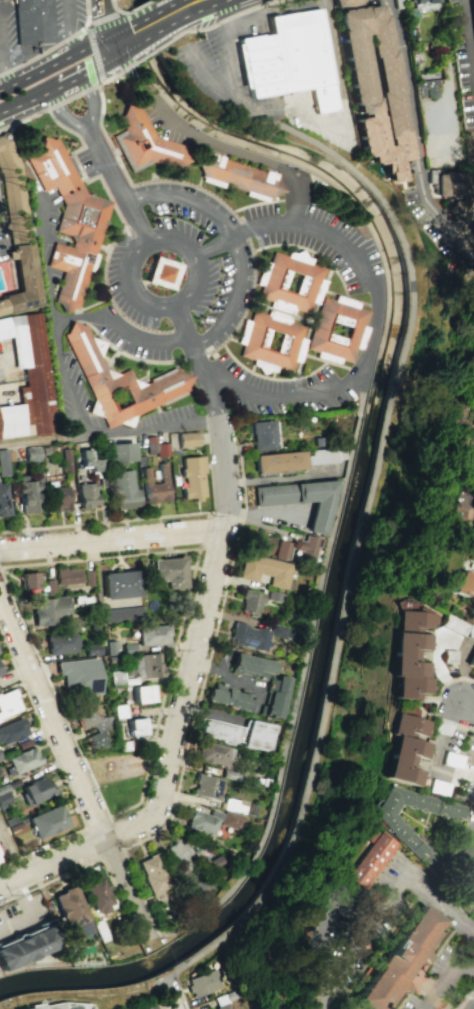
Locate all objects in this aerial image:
building: (4, 0)
road: (100, 0)
road: (102, 0)
road: (271, 2)
building: (341, 2)
road: (114, 5)
road: (193, 5)
building: (423, 6)
road: (133, 8)
road: (216, 10)
building: (472, 10)
road: (241, 13)
parking lot: (67, 17)
building: (33, 22)
road: (104, 23)
road: (70, 25)
road: (150, 26)
road: (203, 29)
road: (469, 33)
parking lot: (7, 37)
road: (88, 37)
road: (116, 43)
road: (54, 44)
traffic signals: (113, 45)
road: (154, 49)
parking lot: (463, 55)
building: (301, 58)
road: (2, 59)
road: (54, 59)
road: (330, 63)
building: (256, 66)
building: (354, 68)
road: (206, 70)
road: (113, 75)
road: (224, 78)
road: (448, 82)
parking lot: (213, 84)
road: (61, 85)
building: (426, 88)
road: (90, 102)
road: (52, 107)
road: (304, 116)
road: (64, 117)
parking lot: (171, 125)
road: (412, 127)
parking lot: (442, 132)
building: (143, 142)
road: (372, 150)
road: (243, 154)
building: (54, 168)
building: (237, 176)
road: (117, 185)
building: (448, 189)
building: (82, 220)
parking lot: (44, 224)
building: (15, 230)
road: (235, 236)
parking lot: (2, 246)
road: (42, 260)
building: (160, 272)
building: (68, 273)
building: (311, 282)
parking lot: (210, 285)
road: (153, 305)
road: (376, 308)
building: (356, 329)
road: (143, 340)
building: (292, 343)
building: (85, 353)
road: (60, 356)
road: (201, 364)
building: (35, 373)
building: (162, 388)
parking lot: (72, 396)
building: (100, 400)
building: (11, 421)
building: (473, 426)
road: (110, 434)
building: (262, 435)
building: (187, 438)
building: (316, 441)
building: (150, 444)
building: (161, 449)
building: (120, 452)
building: (32, 453)
building: (324, 455)
building: (66, 461)
building: (91, 461)
building: (3, 462)
building: (277, 462)
building: (191, 477)
building: (154, 485)
building: (124, 489)
building: (27, 493)
building: (87, 495)
building: (56, 497)
building: (300, 499)
building: (3, 500)
building: (473, 506)
road: (208, 513)
road: (104, 520)
building: (473, 522)
building: (473, 532)
road: (112, 539)
building: (262, 543)
building: (308, 547)
road: (368, 548)
building: (283, 549)
building: (265, 569)
building: (168, 571)
building: (67, 577)
building: (87, 577)
road: (97, 579)
building: (28, 580)
building: (465, 586)
building: (122, 595)
building: (275, 596)
building: (251, 601)
building: (50, 610)
building: (413, 620)
building: (454, 625)
building: (281, 631)
building: (470, 633)
building: (152, 634)
building: (249, 636)
building: (60, 642)
road: (194, 646)
building: (111, 647)
building: (128, 647)
building: (92, 649)
building: (407, 654)
building: (449, 657)
building: (471, 660)
building: (150, 664)
building: (251, 665)
road: (206, 666)
building: (473, 671)
building: (0, 673)
building: (78, 675)
building: (117, 678)
road: (303, 685)
building: (408, 686)
building: (143, 693)
building: (228, 695)
building: (276, 696)
road: (432, 702)
building: (8, 703)
building: (119, 710)
road: (464, 710)
building: (136, 725)
road: (156, 726)
building: (101, 728)
building: (12, 730)
building: (240, 732)
building: (122, 745)
building: (403, 748)
building: (215, 752)
road: (437, 755)
building: (0, 757)
building: (24, 759)
building: (451, 759)
road: (75, 773)
road: (62, 774)
park: (117, 776)
building: (208, 786)
building: (36, 790)
building: (3, 798)
building: (229, 818)
building: (201, 821)
building: (47, 822)
building: (412, 843)
road: (11, 848)
parking lot: (2, 850)
building: (181, 854)
building: (468, 854)
road: (62, 855)
road: (99, 857)
road: (90, 861)
building: (368, 861)
building: (154, 873)
building: (473, 875)
road: (11, 878)
road: (139, 891)
building: (97, 894)
road: (18, 898)
road: (386, 907)
building: (71, 911)
parking lot: (22, 915)
road: (14, 923)
parking lot: (353, 929)
road: (165, 933)
building: (22, 948)
parking lot: (446, 949)
road: (318, 956)
building: (395, 964)
road: (471, 969)
building: (204, 982)
road: (450, 987)
road: (470, 988)
road: (181, 991)
road: (470, 994)
road: (174, 999)
road: (461, 1000)
building: (59, 1005)
building: (140, 1006)
building: (223, 1006)

